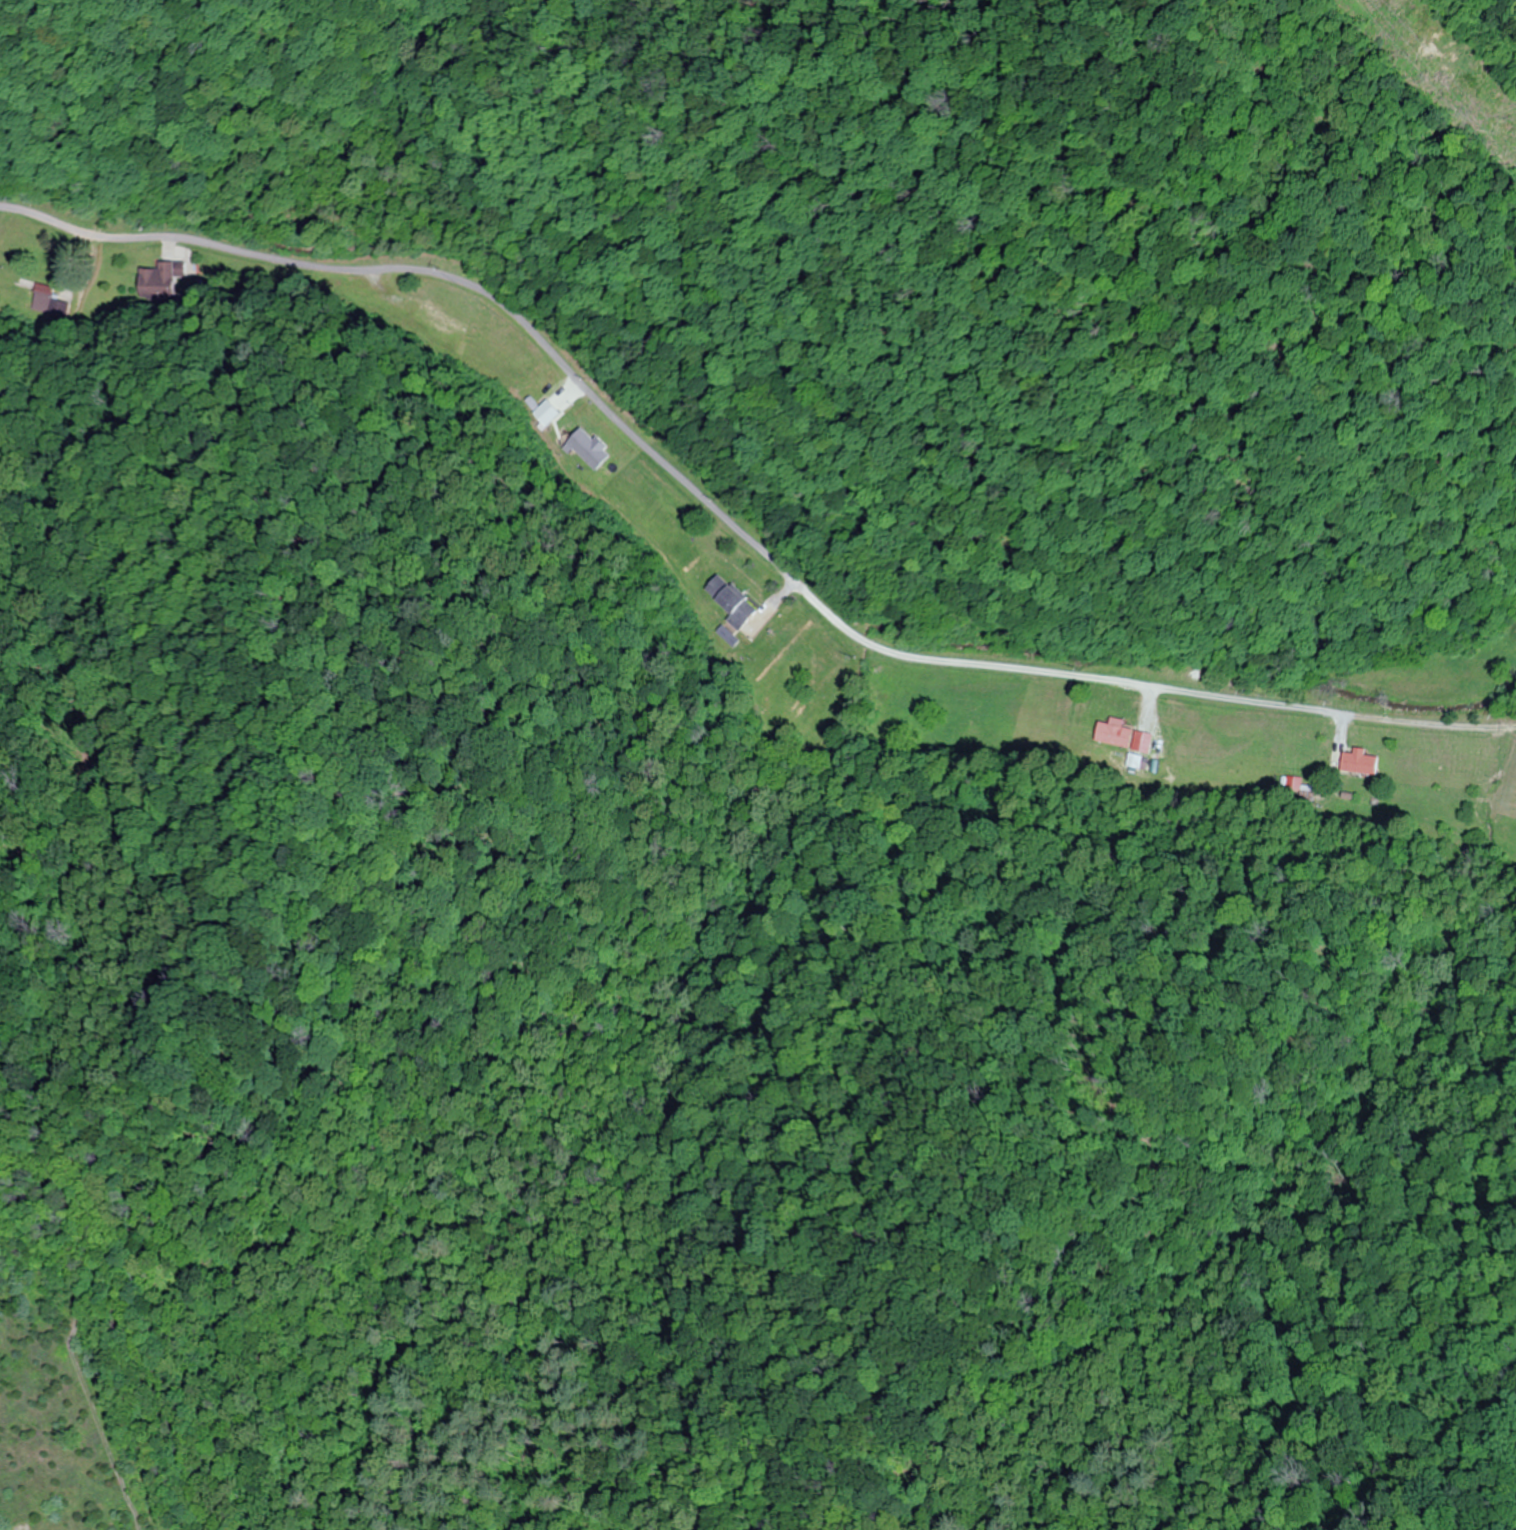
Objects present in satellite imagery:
building: (163, 280)
building: (49, 289)
building: (442, 317)
building: (590, 449)
road: (669, 469)
building: (731, 601)
building: (1116, 734)
building: (1361, 763)

